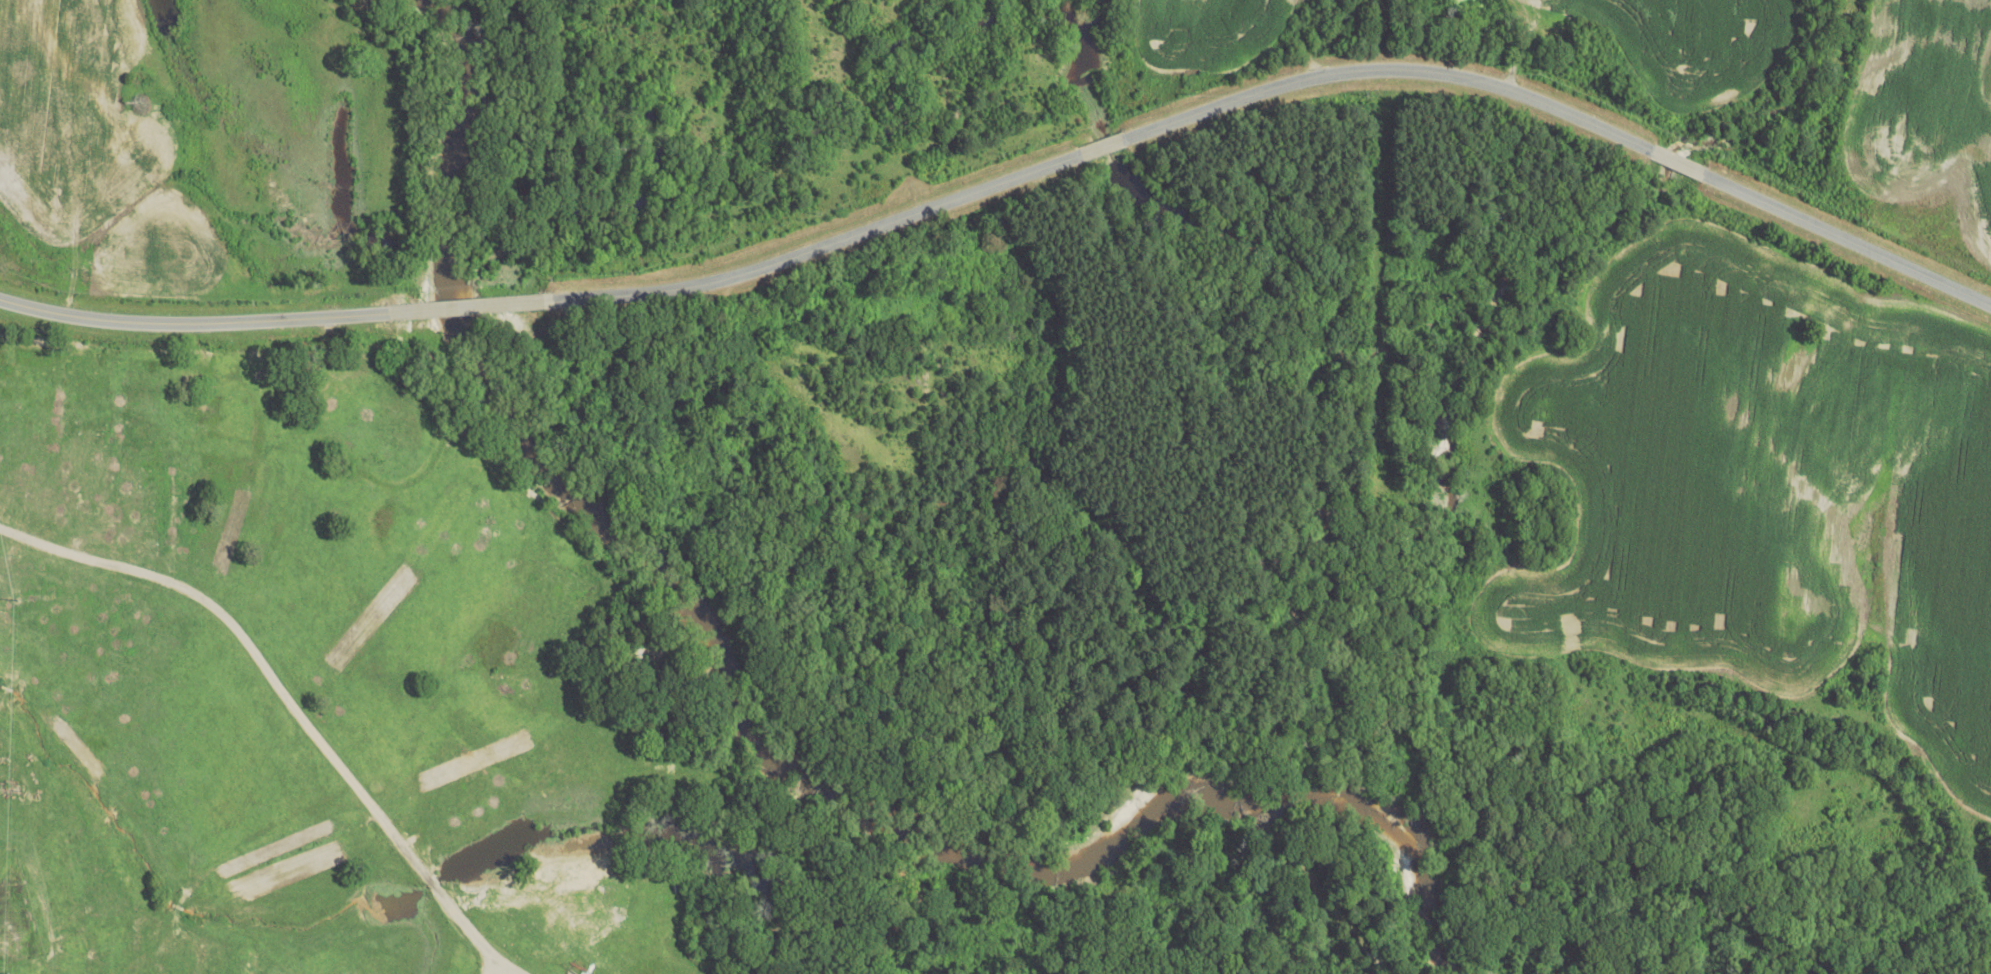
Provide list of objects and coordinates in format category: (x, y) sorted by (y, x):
road: (1392, 68)
road: (1107, 146)
road: (1681, 162)
road: (1850, 239)
road: (825, 243)
road: (472, 307)
road: (192, 322)
road: (290, 704)
river: (758, 740)
road: (492, 966)

